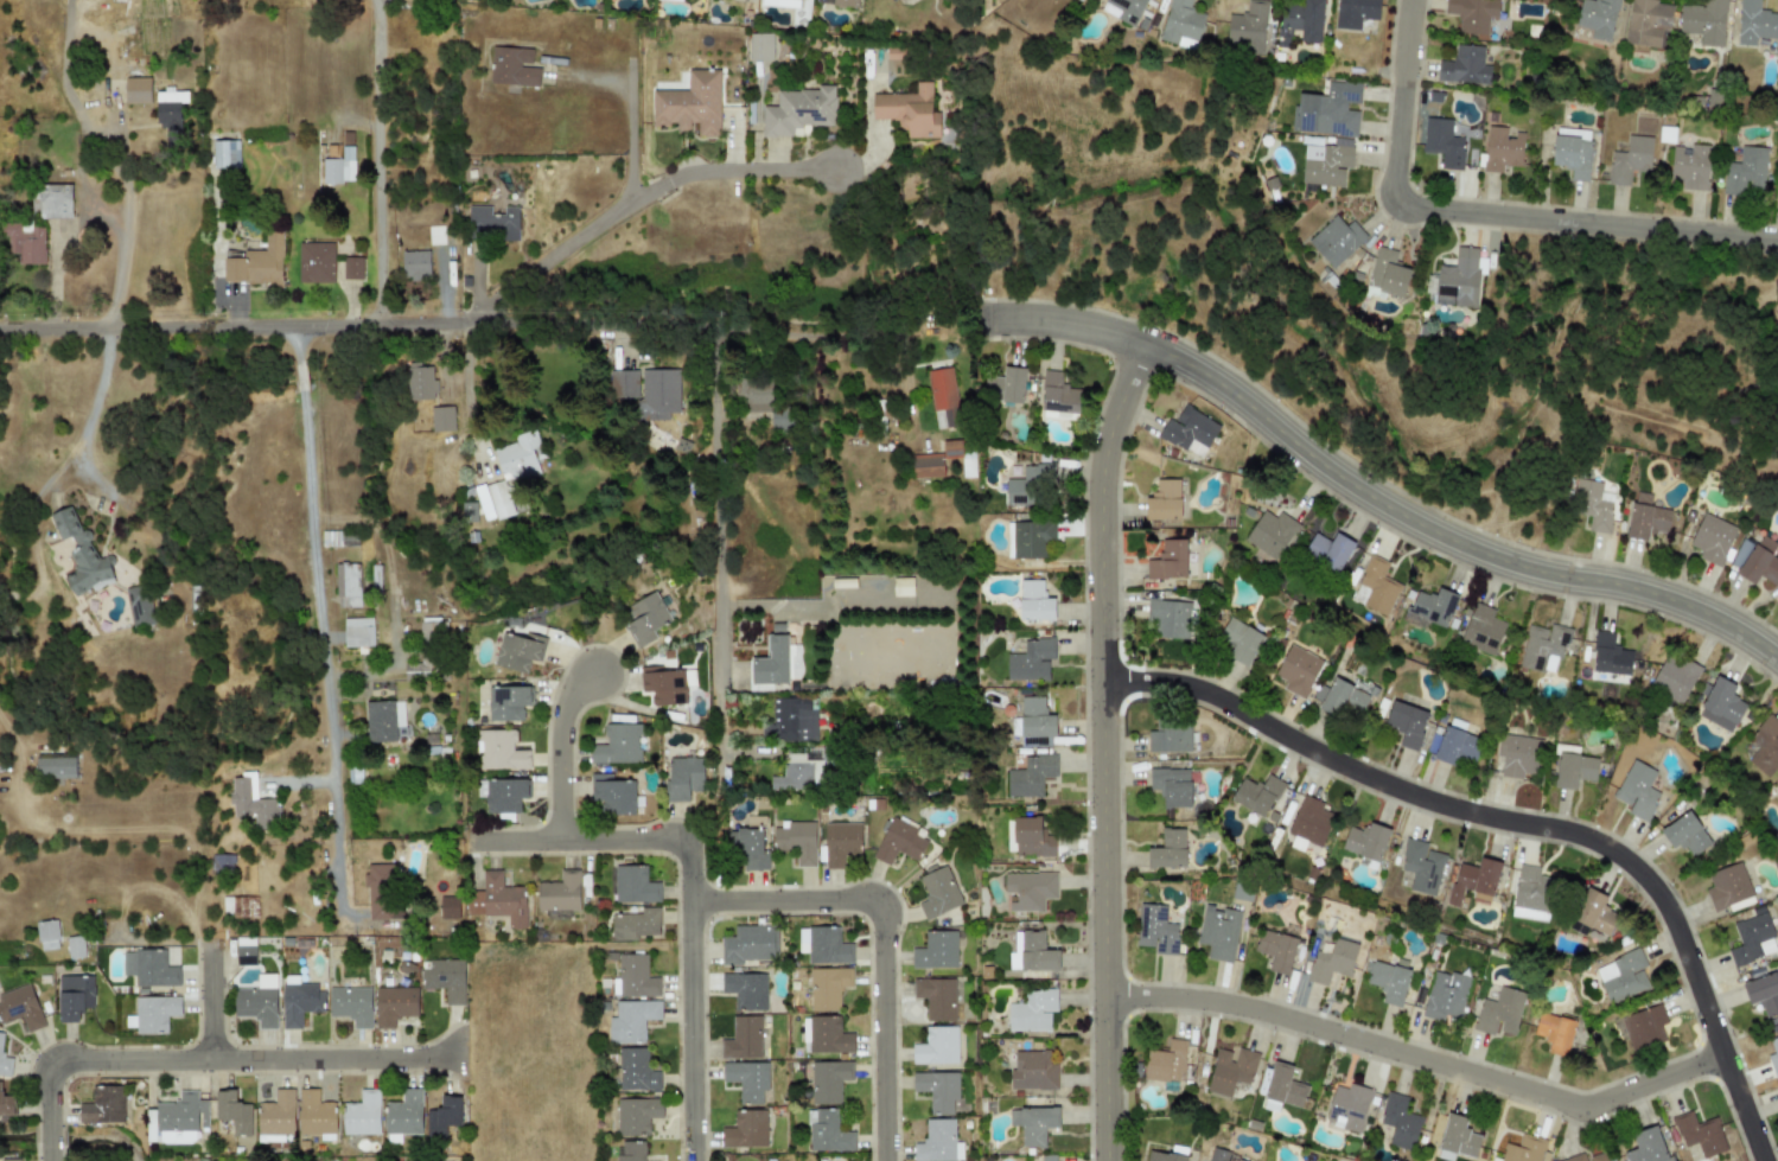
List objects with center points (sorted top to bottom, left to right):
building: (891, 0)
building: (1079, 0)
building: (845, 2)
road: (380, 8)
building: (1123, 9)
building: (1355, 12)
building: (1471, 14)
building: (1597, 17)
building: (1648, 21)
building: (1703, 21)
building: (1180, 23)
building: (1300, 23)
building: (1755, 23)
building: (1247, 27)
road: (1407, 42)
building: (760, 46)
building: (512, 66)
building: (1464, 66)
building: (136, 90)
building: (690, 104)
building: (168, 107)
building: (1328, 109)
building: (799, 110)
building: (909, 110)
road: (631, 116)
building: (1442, 142)
building: (1500, 149)
building: (1572, 152)
building: (225, 154)
building: (1630, 159)
building: (1325, 165)
building: (1690, 166)
building: (338, 167)
building: (1744, 171)
road: (384, 174)
building: (56, 200)
road: (636, 206)
road: (1527, 218)
building: (495, 225)
building: (435, 236)
building: (1336, 240)
building: (27, 242)
building: (317, 262)
building: (415, 266)
building: (352, 267)
building: (256, 268)
building: (1387, 273)
road: (116, 274)
building: (1458, 279)
road: (1064, 321)
road: (587, 328)
road: (230, 333)
building: (420, 382)
building: (623, 384)
building: (1005, 385)
building: (942, 389)
building: (657, 394)
building: (753, 395)
building: (1058, 396)
road: (469, 398)
building: (442, 417)
building: (1188, 432)
building: (951, 448)
building: (520, 459)
building: (926, 465)
building: (1030, 484)
building: (1162, 500)
building: (493, 502)
building: (1593, 504)
building: (469, 512)
building: (1645, 518)
road: (716, 522)
building: (1270, 534)
road: (1444, 535)
building: (1028, 538)
building: (1712, 538)
building: (345, 542)
building: (1328, 550)
building: (79, 553)
building: (1740, 555)
building: (1168, 560)
building: (1760, 562)
building: (376, 580)
building: (349, 585)
building: (901, 587)
building: (1375, 587)
road: (827, 599)
building: (1033, 601)
building: (142, 607)
building: (1430, 607)
road: (317, 617)
building: (644, 618)
building: (1168, 618)
building: (432, 629)
building: (1481, 629)
building: (358, 632)
building: (1239, 640)
building: (1542, 648)
building: (518, 651)
building: (1610, 656)
building: (1030, 659)
building: (777, 662)
building: (418, 670)
building: (1296, 670)
building: (1675, 678)
building: (664, 687)
building: (1344, 700)
building: (506, 702)
building: (1721, 706)
building: (786, 719)
building: (384, 720)
building: (1034, 723)
building: (1407, 723)
building: (1170, 736)
building: (617, 744)
building: (1455, 744)
building: (1765, 746)
road: (1103, 748)
building: (499, 751)
road: (566, 751)
building: (1517, 754)
building: (56, 766)
building: (1574, 770)
building: (1030, 776)
building: (792, 777)
building: (683, 778)
building: (1172, 786)
building: (1637, 790)
building: (612, 793)
building: (502, 795)
building: (1256, 795)
building: (249, 802)
building: (1308, 823)
road: (1519, 823)
building: (1684, 834)
building: (1031, 836)
road: (587, 840)
building: (796, 841)
building: (1365, 841)
building: (840, 842)
building: (898, 842)
building: (751, 849)
building: (1167, 850)
building: (223, 862)
building: (1421, 867)
building: (377, 878)
building: (1473, 880)
building: (631, 885)
building: (1727, 886)
building: (1030, 889)
building: (559, 892)
building: (937, 893)
building: (1530, 893)
building: (243, 906)
building: (448, 907)
building: (1594, 912)
building: (635, 924)
building: (1155, 929)
building: (1218, 932)
building: (47, 934)
building: (1752, 939)
road: (884, 943)
building: (750, 944)
building: (823, 945)
building: (75, 946)
building: (1277, 949)
building: (936, 950)
building: (244, 951)
building: (1033, 951)
building: (1332, 962)
building: (148, 968)
building: (632, 976)
building: (1623, 976)
building: (444, 978)
building: (1387, 980)
building: (827, 987)
building: (745, 989)
building: (1763, 994)
building: (1445, 995)
building: (74, 996)
building: (936, 997)
building: (257, 1001)
building: (299, 1001)
building: (351, 1004)
building: (394, 1004)
building: (20, 1007)
road: (217, 1009)
road: (696, 1009)
building: (1032, 1010)
building: (1499, 1012)
building: (153, 1014)
building: (631, 1020)
building: (1642, 1027)
building: (1555, 1032)
building: (826, 1034)
building: (741, 1039)
building: (936, 1046)
building: (1773, 1055)
road: (1417, 1057)
building: (1166, 1061)
road: (345, 1067)
road: (93, 1068)
building: (636, 1070)
building: (1230, 1070)
building: (1032, 1071)
building: (746, 1079)
building: (828, 1080)
building: (1282, 1087)
building: (937, 1089)
building: (6, 1104)
building: (102, 1105)
building: (1347, 1106)
building: (232, 1111)
building: (276, 1114)
building: (362, 1114)
building: (403, 1114)
building: (316, 1115)
building: (636, 1115)
building: (442, 1116)
building: (180, 1118)
building: (1398, 1122)
building: (1035, 1124)
building: (745, 1129)
building: (827, 1131)
building: (1699, 1134)
building: (1457, 1138)
building: (937, 1142)
building: (1646, 1146)
building: (1523, 1149)
building: (629, 1150)
building: (1216, 1154)
building: (1162, 1156)
building: (1049, 1157)
building: (1586, 1157)
building: (9, 1159)
building: (1239, 1160)

